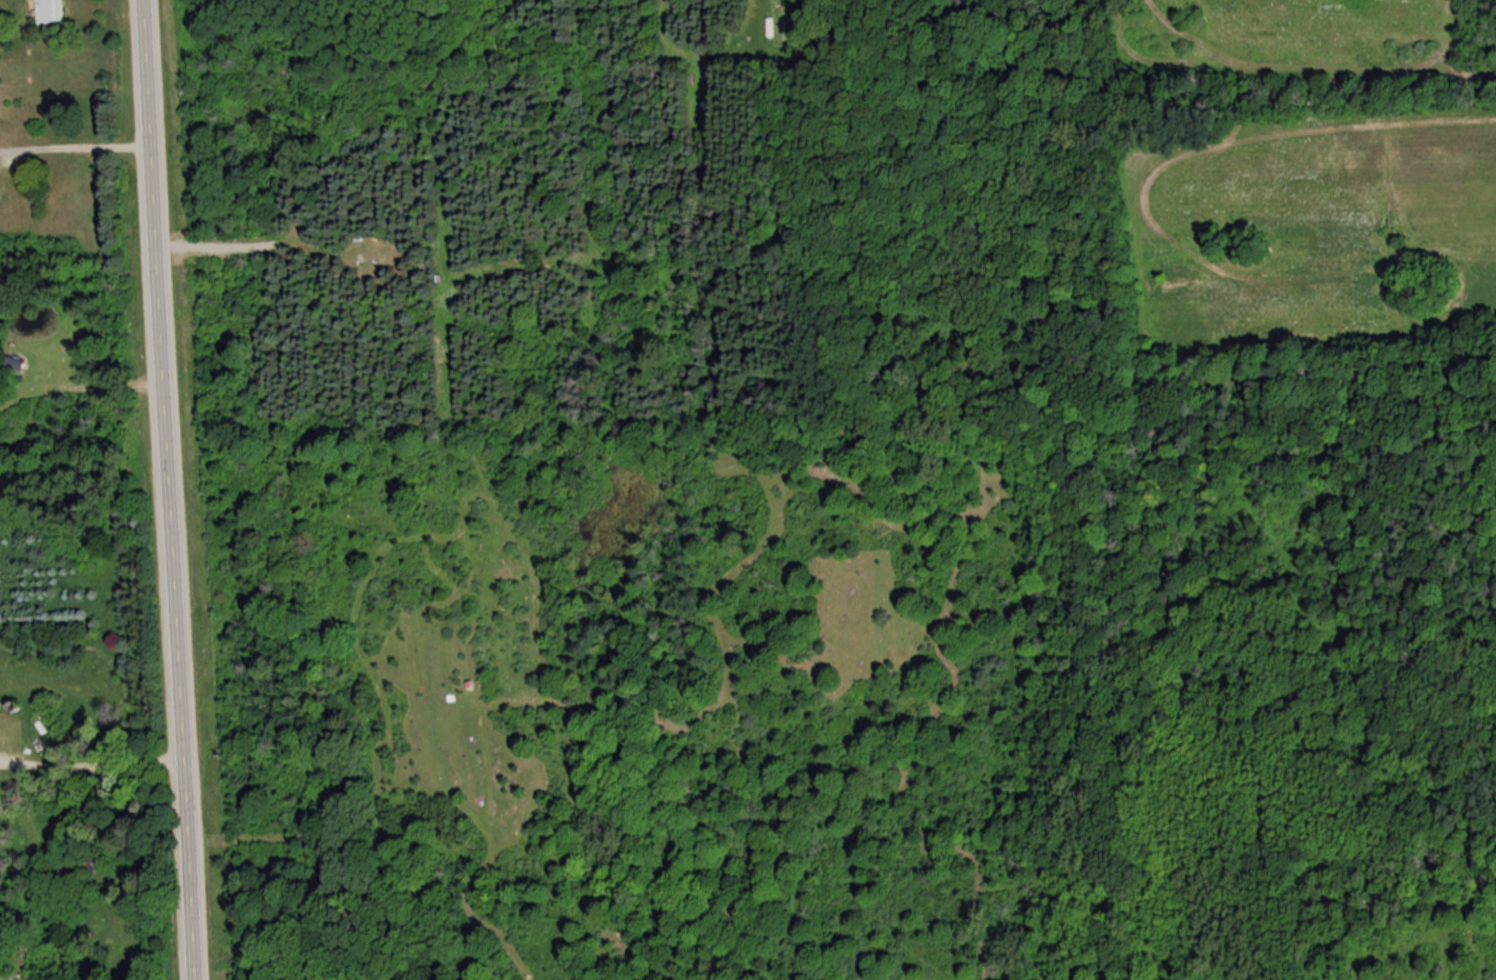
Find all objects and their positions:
building: (53, 12)
building: (781, 23)
building: (1, 192)
road: (171, 490)
building: (88, 870)

